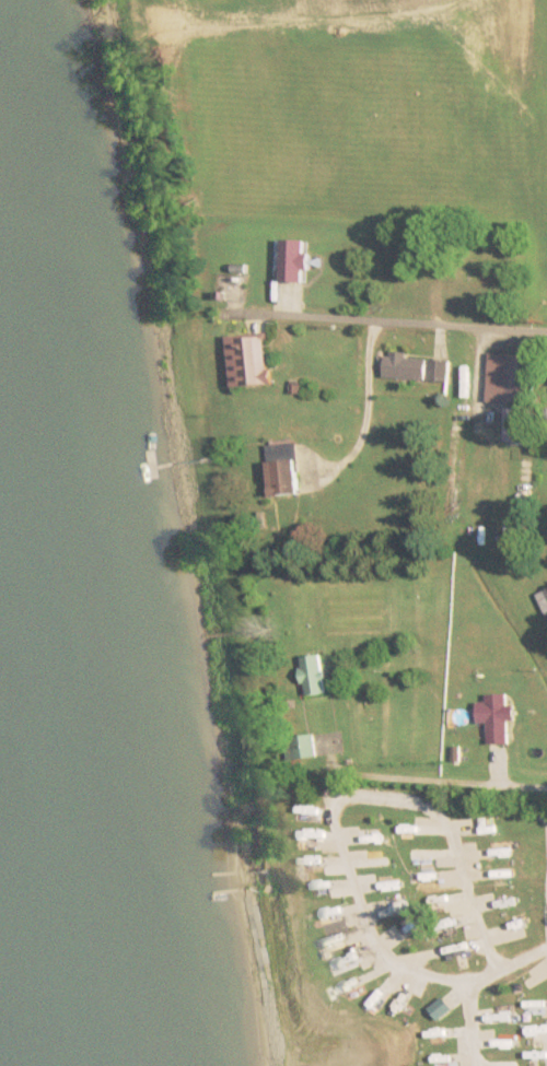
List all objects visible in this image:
building: (296, 258)
building: (465, 283)
road: (409, 323)
building: (249, 360)
building: (418, 367)
building: (513, 377)
building: (524, 423)
building: (286, 477)
building: (544, 600)
building: (316, 677)
building: (499, 717)
building: (307, 748)

